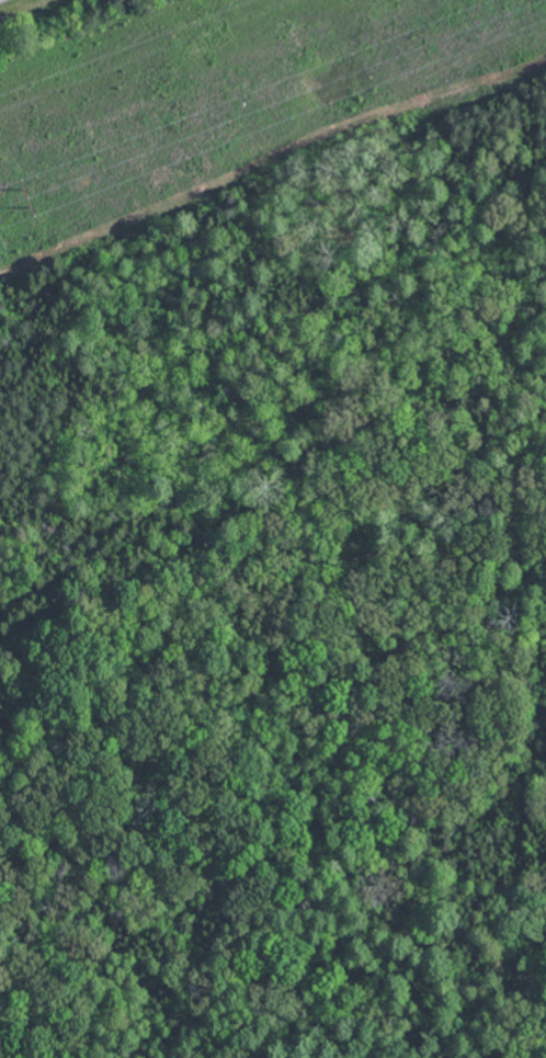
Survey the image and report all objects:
power tower: (33, 202)

